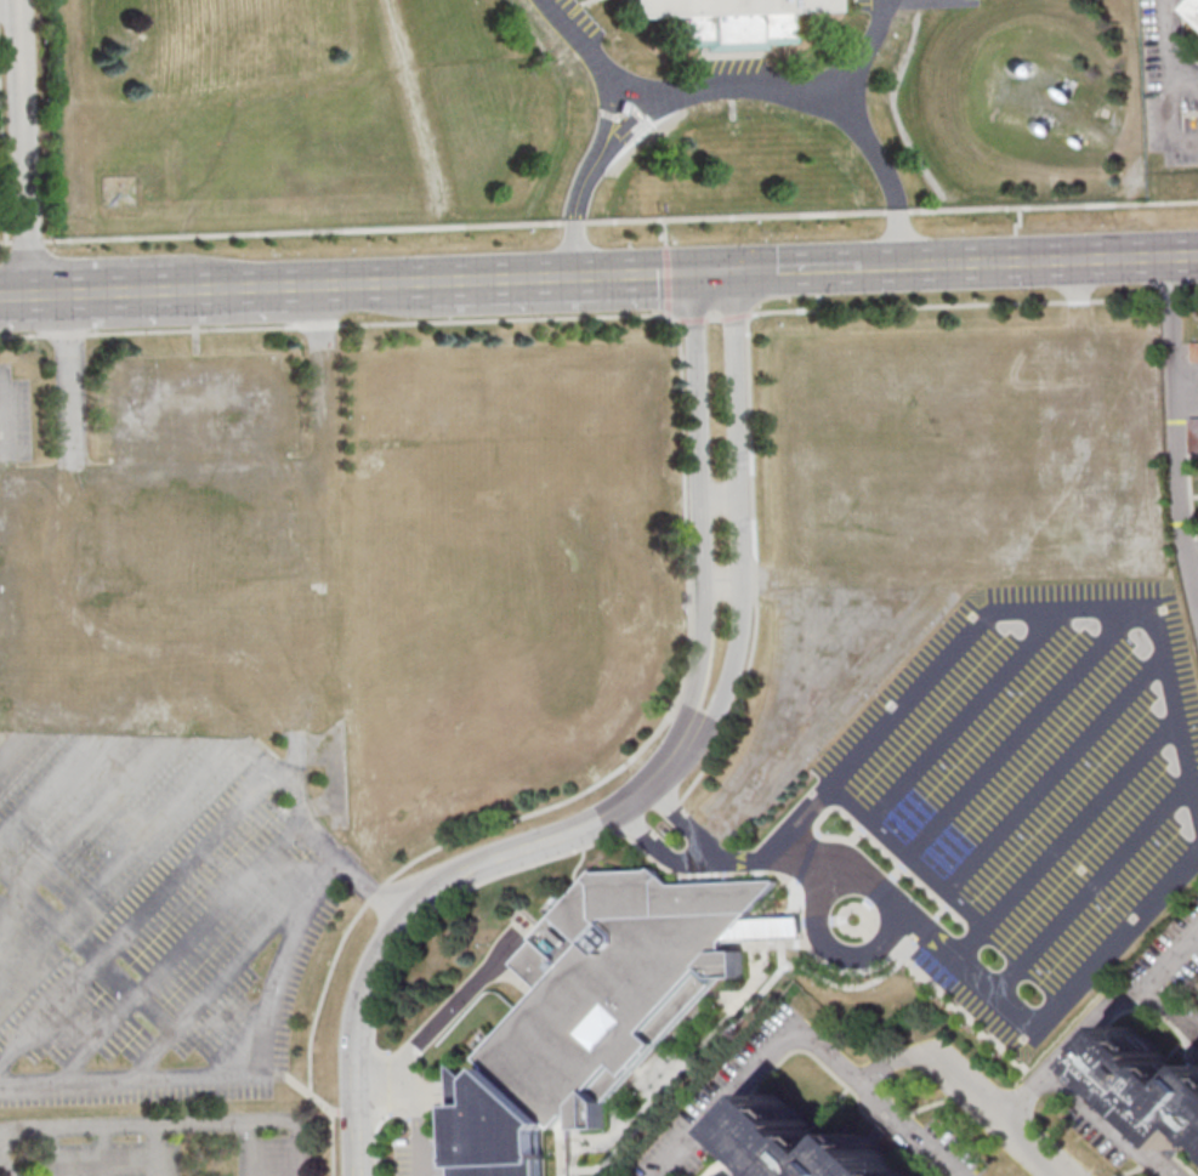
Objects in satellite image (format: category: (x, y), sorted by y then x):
road: (8, 8)
building: (723, 17)
road: (579, 42)
road: (864, 50)
road: (1169, 57)
road: (634, 93)
road: (835, 95)
road: (607, 112)
road: (1171, 114)
road: (631, 123)
road: (1186, 140)
road: (24, 147)
road: (577, 205)
road: (598, 221)
road: (664, 233)
road: (1064, 260)
road: (897, 266)
road: (797, 268)
road: (711, 271)
traffic signals: (733, 271)
traffic signals: (691, 272)
road: (560, 277)
road: (666, 279)
road: (370, 283)
road: (244, 288)
road: (120, 291)
road: (47, 294)
road: (15, 295)
road: (666, 314)
road: (600, 316)
building: (1194, 352)
road: (1186, 376)
road: (68, 381)
road: (7, 425)
road: (1175, 433)
building: (1193, 434)
road: (697, 449)
road: (719, 496)
road: (739, 509)
building: (198, 536)
road: (722, 581)
road: (1009, 613)
road: (697, 680)
road: (966, 716)
road: (1021, 732)
road: (15, 735)
road: (11, 743)
road: (1054, 776)
road: (46, 783)
road: (570, 797)
road: (683, 818)
road: (320, 839)
road: (1066, 839)
road: (655, 845)
road: (534, 848)
road: (909, 856)
road: (731, 859)
road: (1094, 888)
road: (830, 943)
road: (112, 971)
building: (618, 982)
road: (999, 994)
road: (449, 1009)
road: (1173, 1010)
road: (50, 1012)
road: (1094, 1017)
road: (95, 1038)
road: (774, 1043)
road: (356, 1067)
road: (239, 1072)
building: (1156, 1086)
road: (421, 1098)
road: (988, 1109)
road: (174, 1123)
road: (1103, 1123)
building: (494, 1127)
road: (912, 1132)
building: (814, 1147)
road: (159, 1149)
road: (6, 1166)
road: (1056, 1174)

